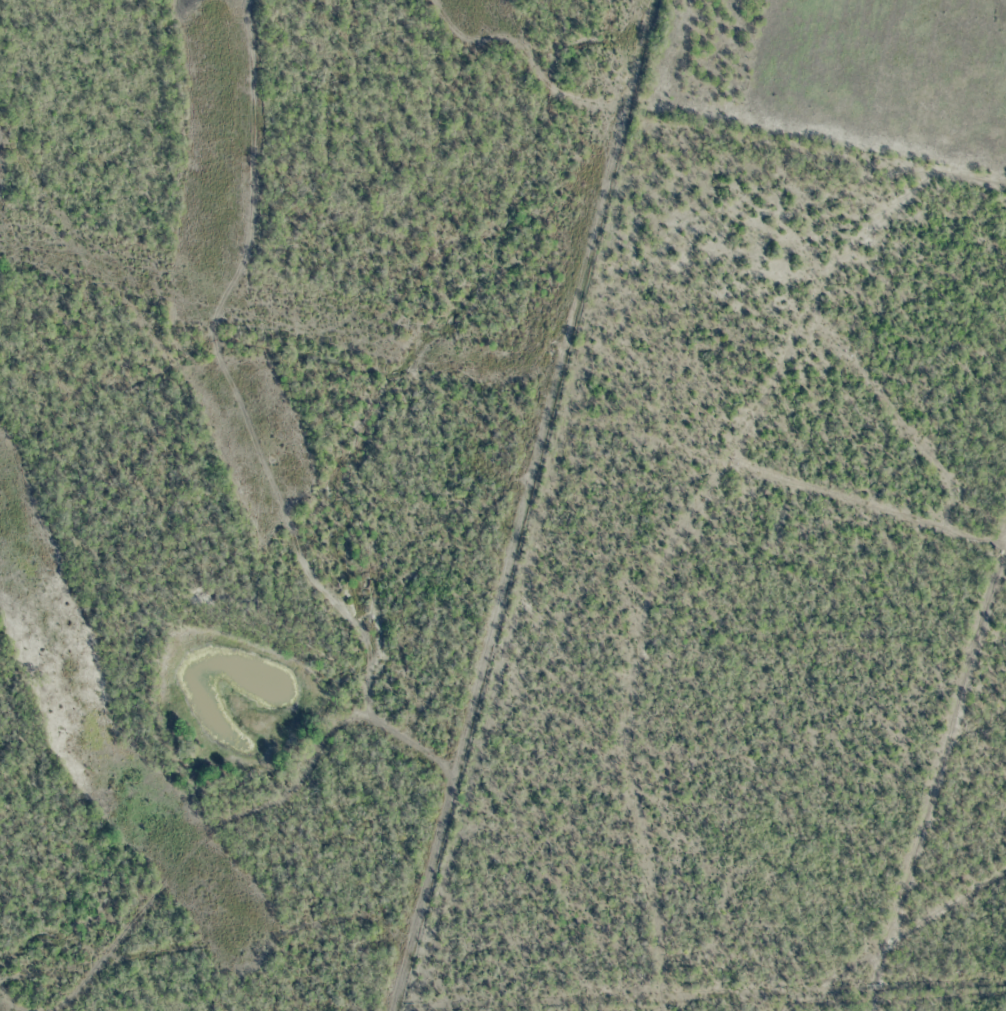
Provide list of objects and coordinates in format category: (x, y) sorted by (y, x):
road: (361, 367)
road: (721, 526)

